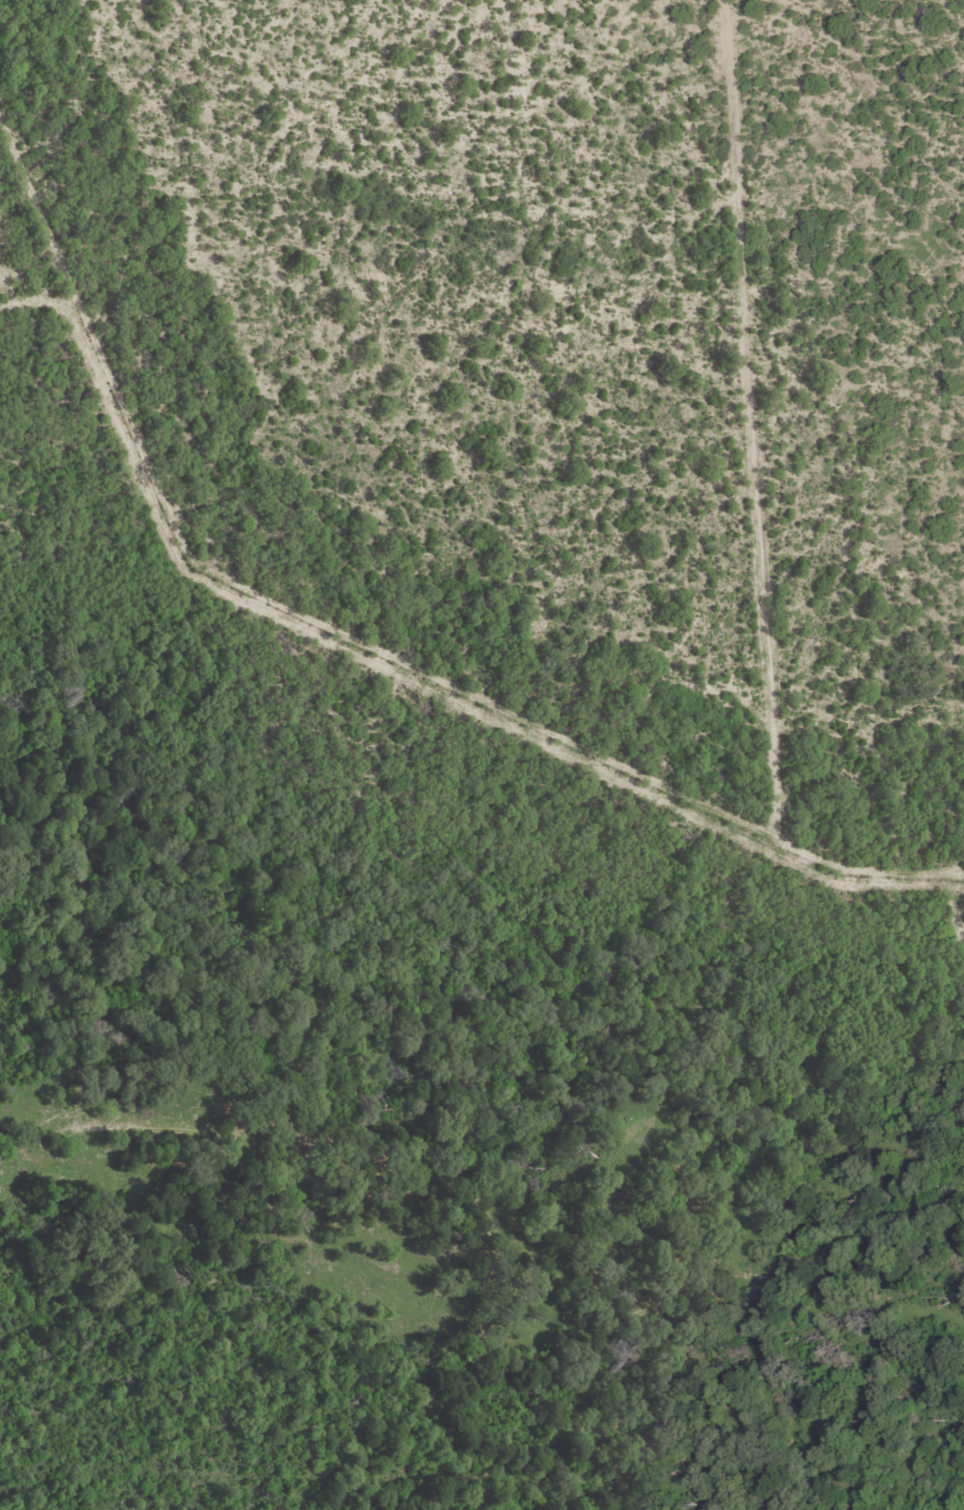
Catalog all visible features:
road: (375, 644)
road: (462, 1236)

